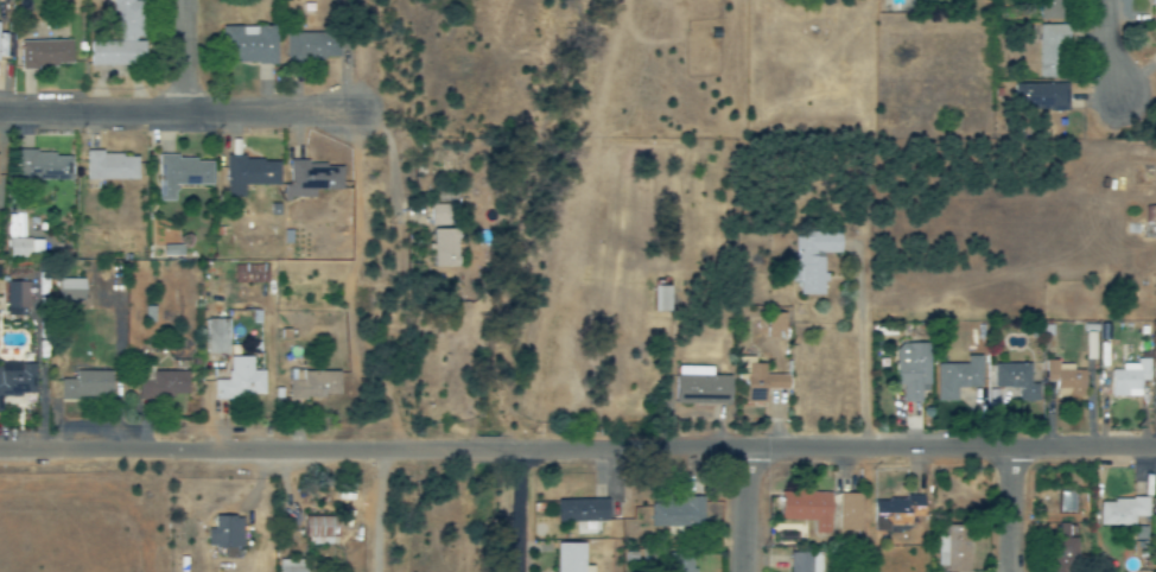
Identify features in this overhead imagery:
building: (1052, 9)
building: (1152, 9)
building: (121, 38)
building: (250, 44)
building: (6, 45)
building: (312, 46)
road: (1109, 47)
building: (1052, 52)
building: (45, 53)
road: (186, 56)
building: (1047, 97)
road: (178, 113)
building: (43, 166)
building: (112, 167)
building: (182, 174)
building: (248, 174)
building: (311, 180)
building: (440, 216)
building: (26, 248)
building: (444, 248)
road: (465, 255)
building: (814, 260)
building: (250, 274)
building: (70, 291)
building: (661, 299)
building: (775, 326)
building: (217, 337)
building: (1155, 356)
building: (912, 370)
building: (958, 379)
building: (1066, 379)
building: (1129, 379)
building: (757, 380)
building: (240, 381)
building: (1017, 381)
building: (17, 382)
building: (171, 383)
building: (313, 384)
building: (87, 386)
building: (700, 387)
road: (578, 450)
building: (806, 509)
road: (521, 510)
road: (745, 510)
building: (897, 510)
road: (1015, 510)
road: (377, 511)
building: (582, 511)
building: (1122, 511)
building: (850, 513)
building: (677, 514)
building: (320, 529)
building: (1062, 530)
building: (226, 533)
building: (954, 548)
building: (1062, 554)
building: (571, 558)
building: (680, 563)
building: (806, 563)
building: (291, 566)

